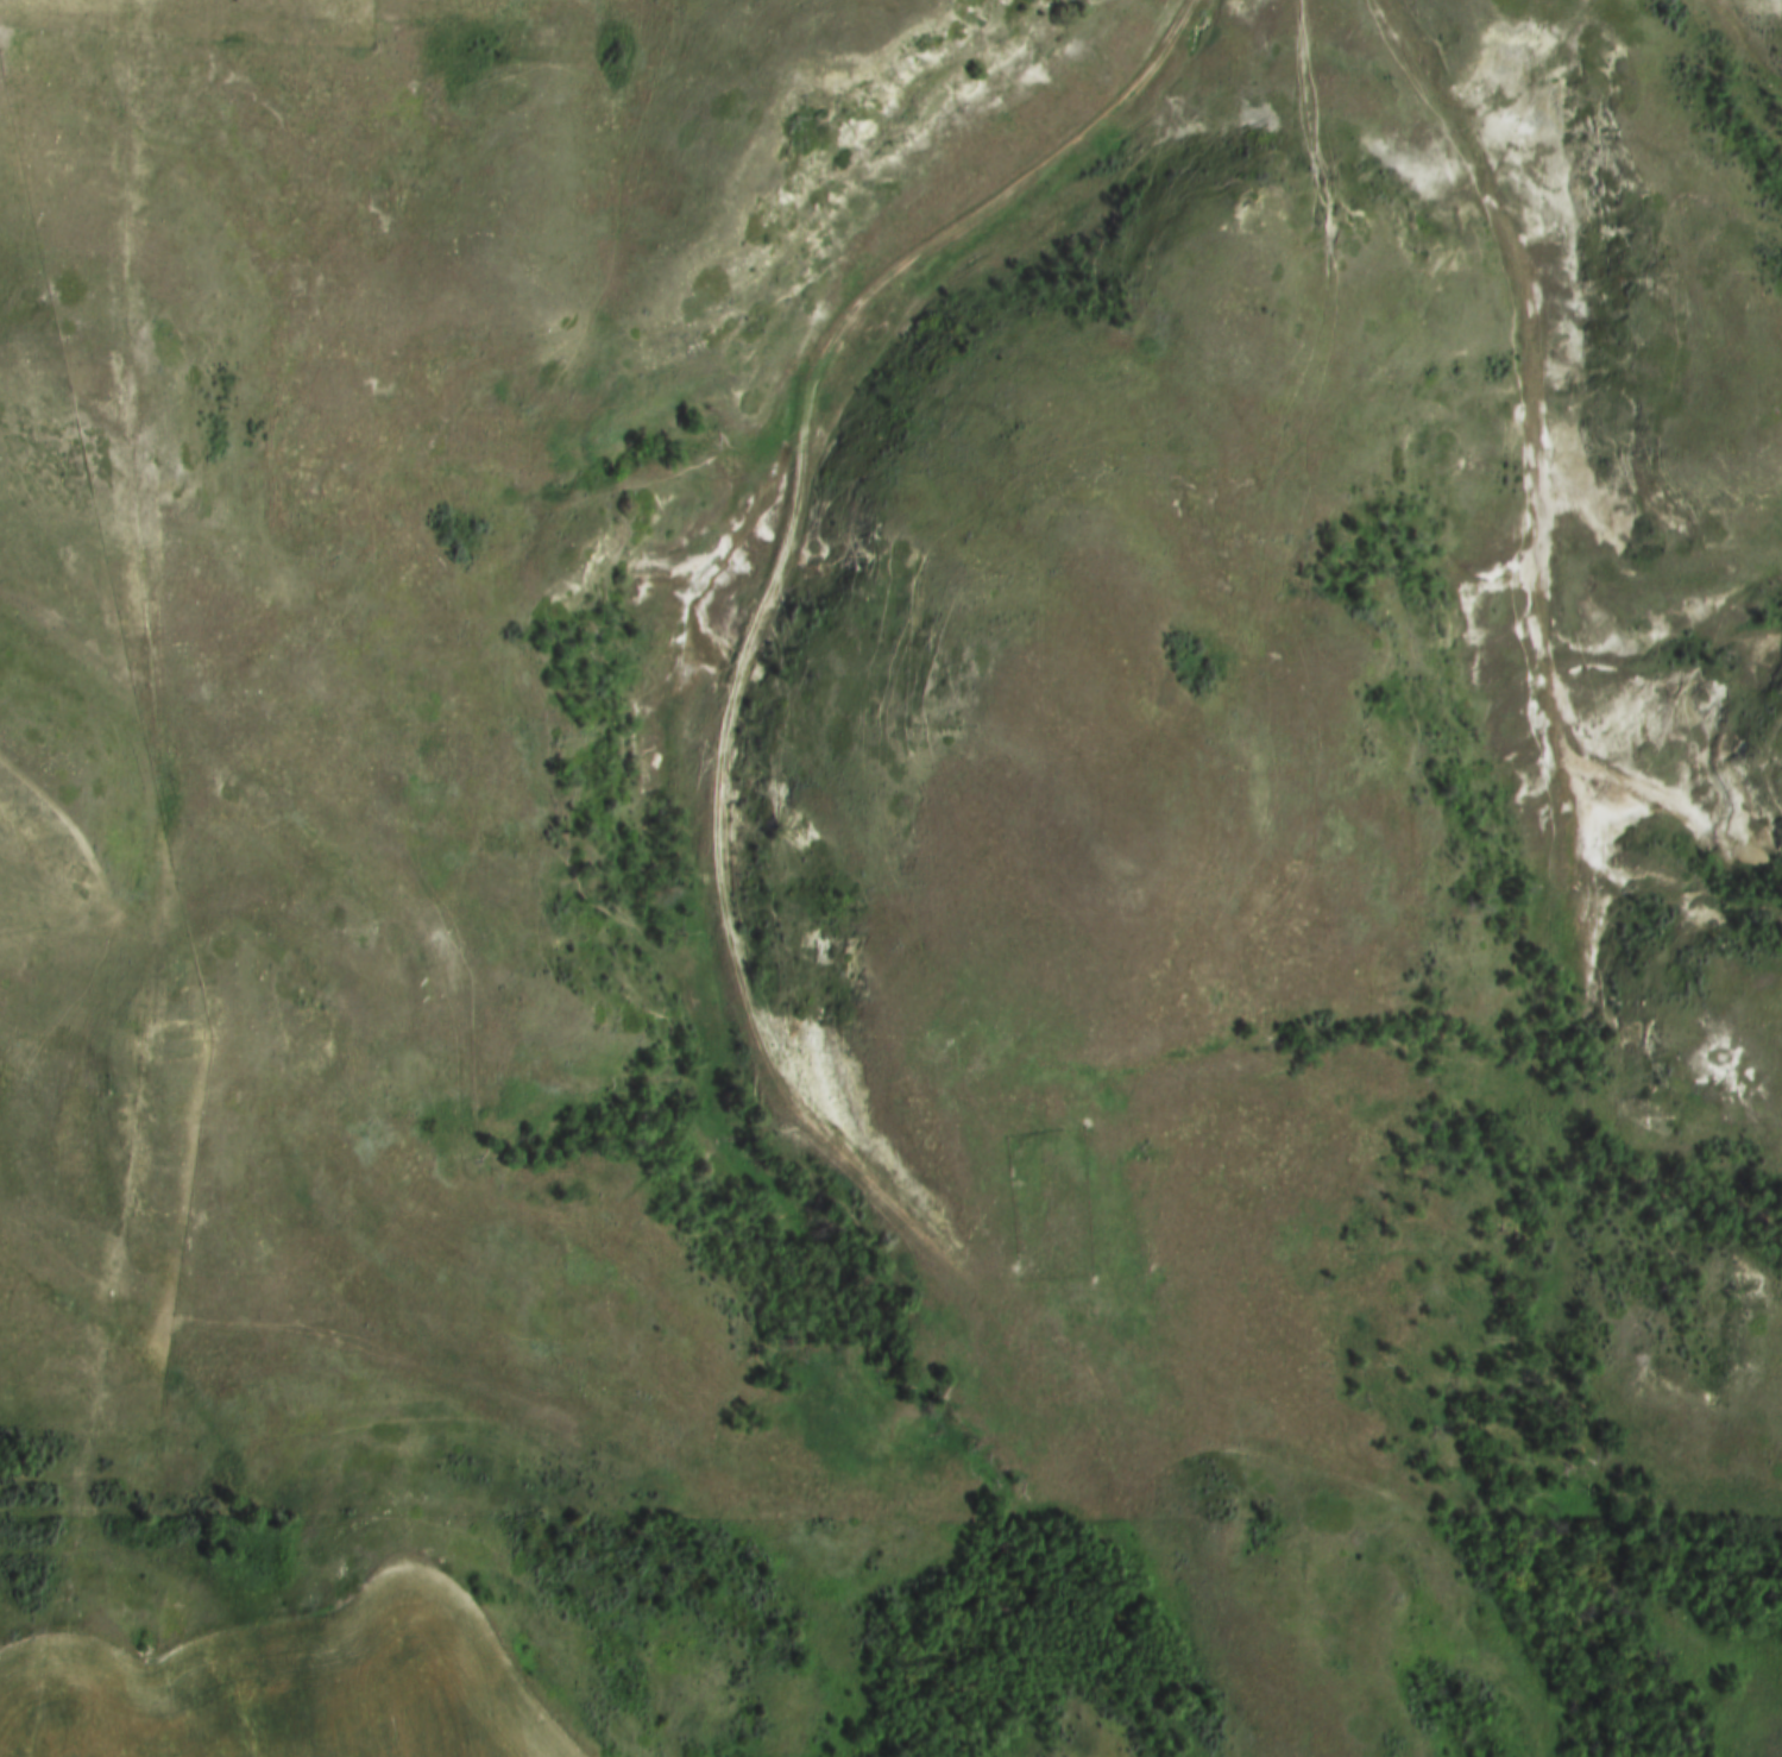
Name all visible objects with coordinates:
road: (1535, 459)
road: (780, 581)

